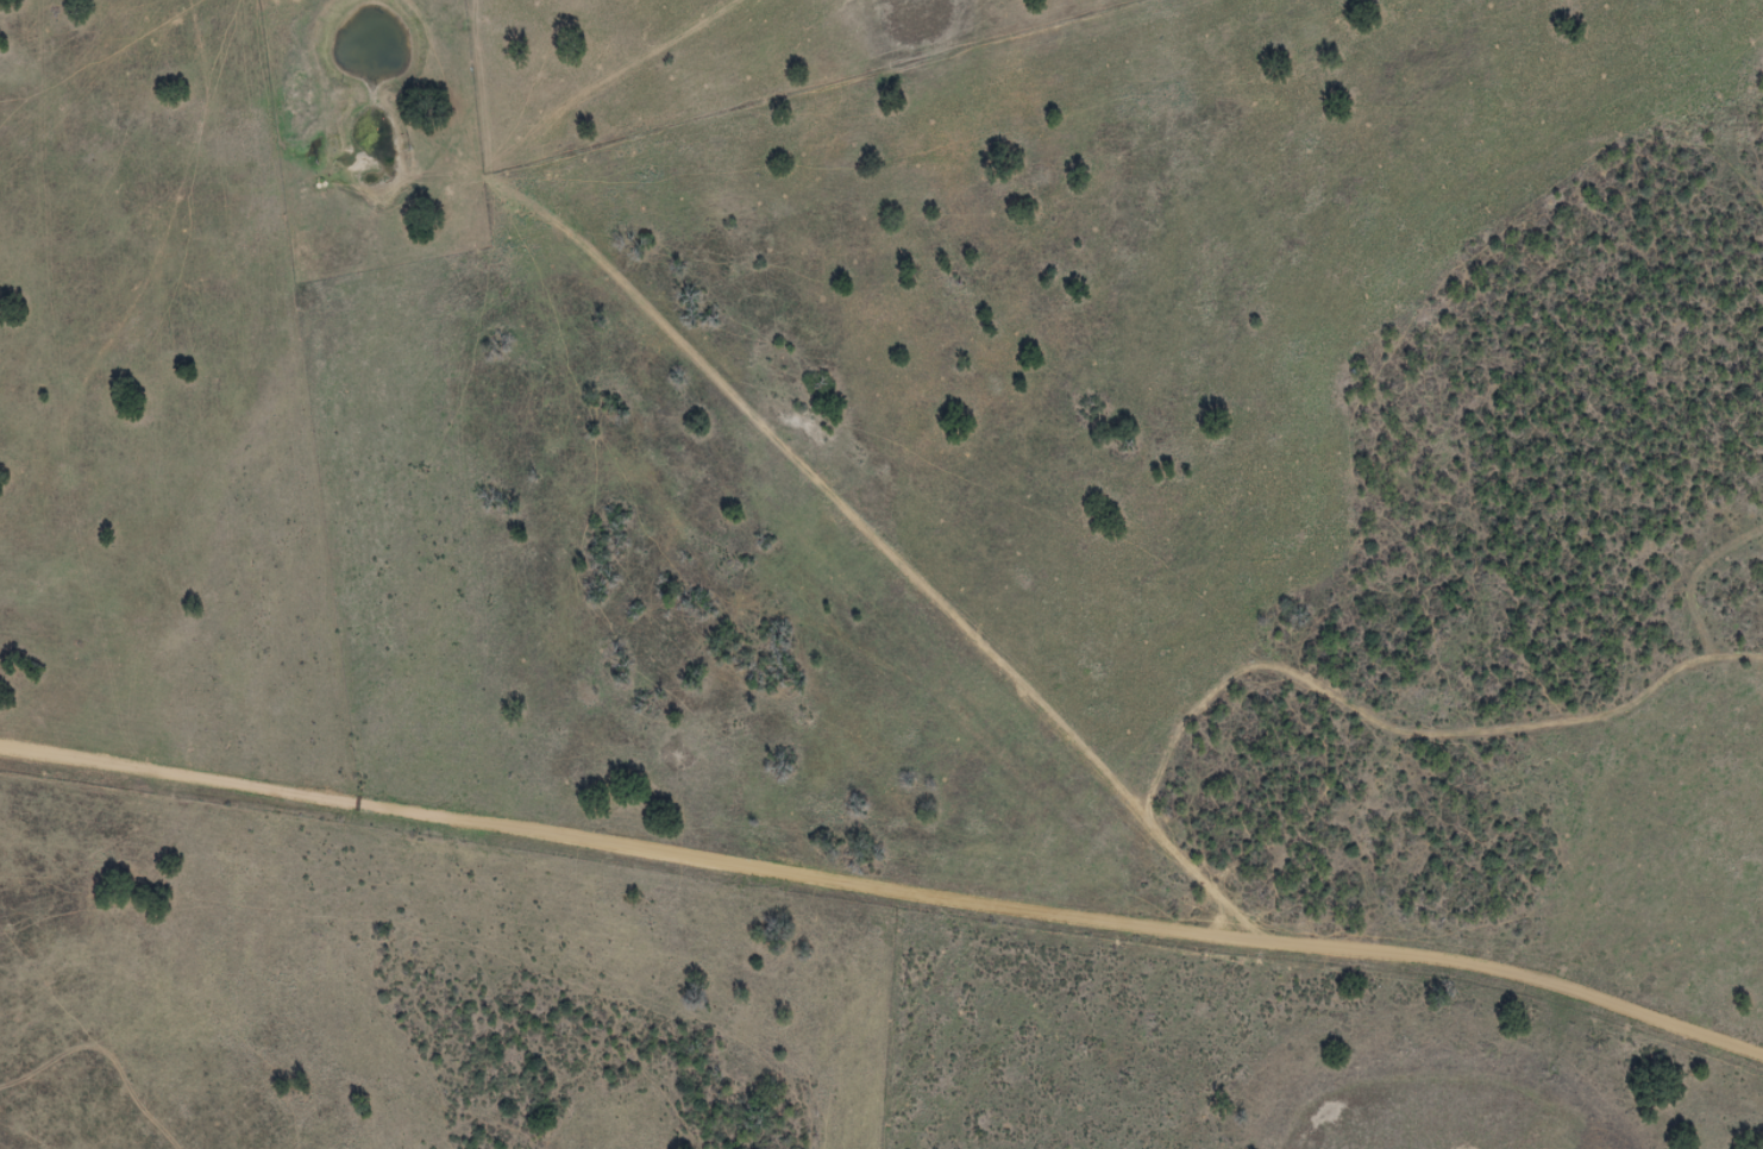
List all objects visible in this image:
road: (21, 751)
road: (906, 893)

